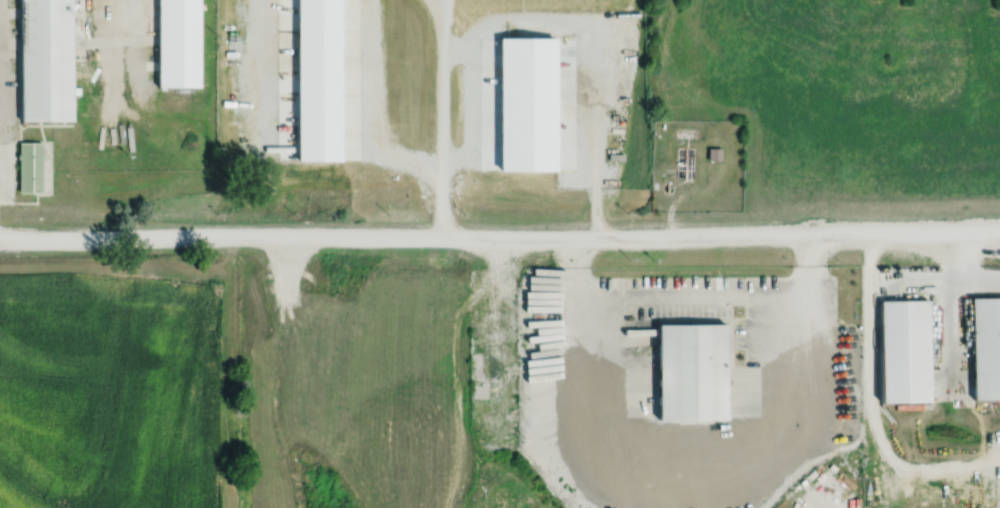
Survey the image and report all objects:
road: (559, 15)
building: (178, 43)
building: (46, 60)
road: (443, 84)
building: (715, 155)
road: (405, 161)
building: (684, 164)
building: (30, 167)
road: (500, 238)
road: (968, 271)
road: (947, 308)
road: (697, 309)
building: (986, 348)
building: (692, 372)
road: (870, 403)

